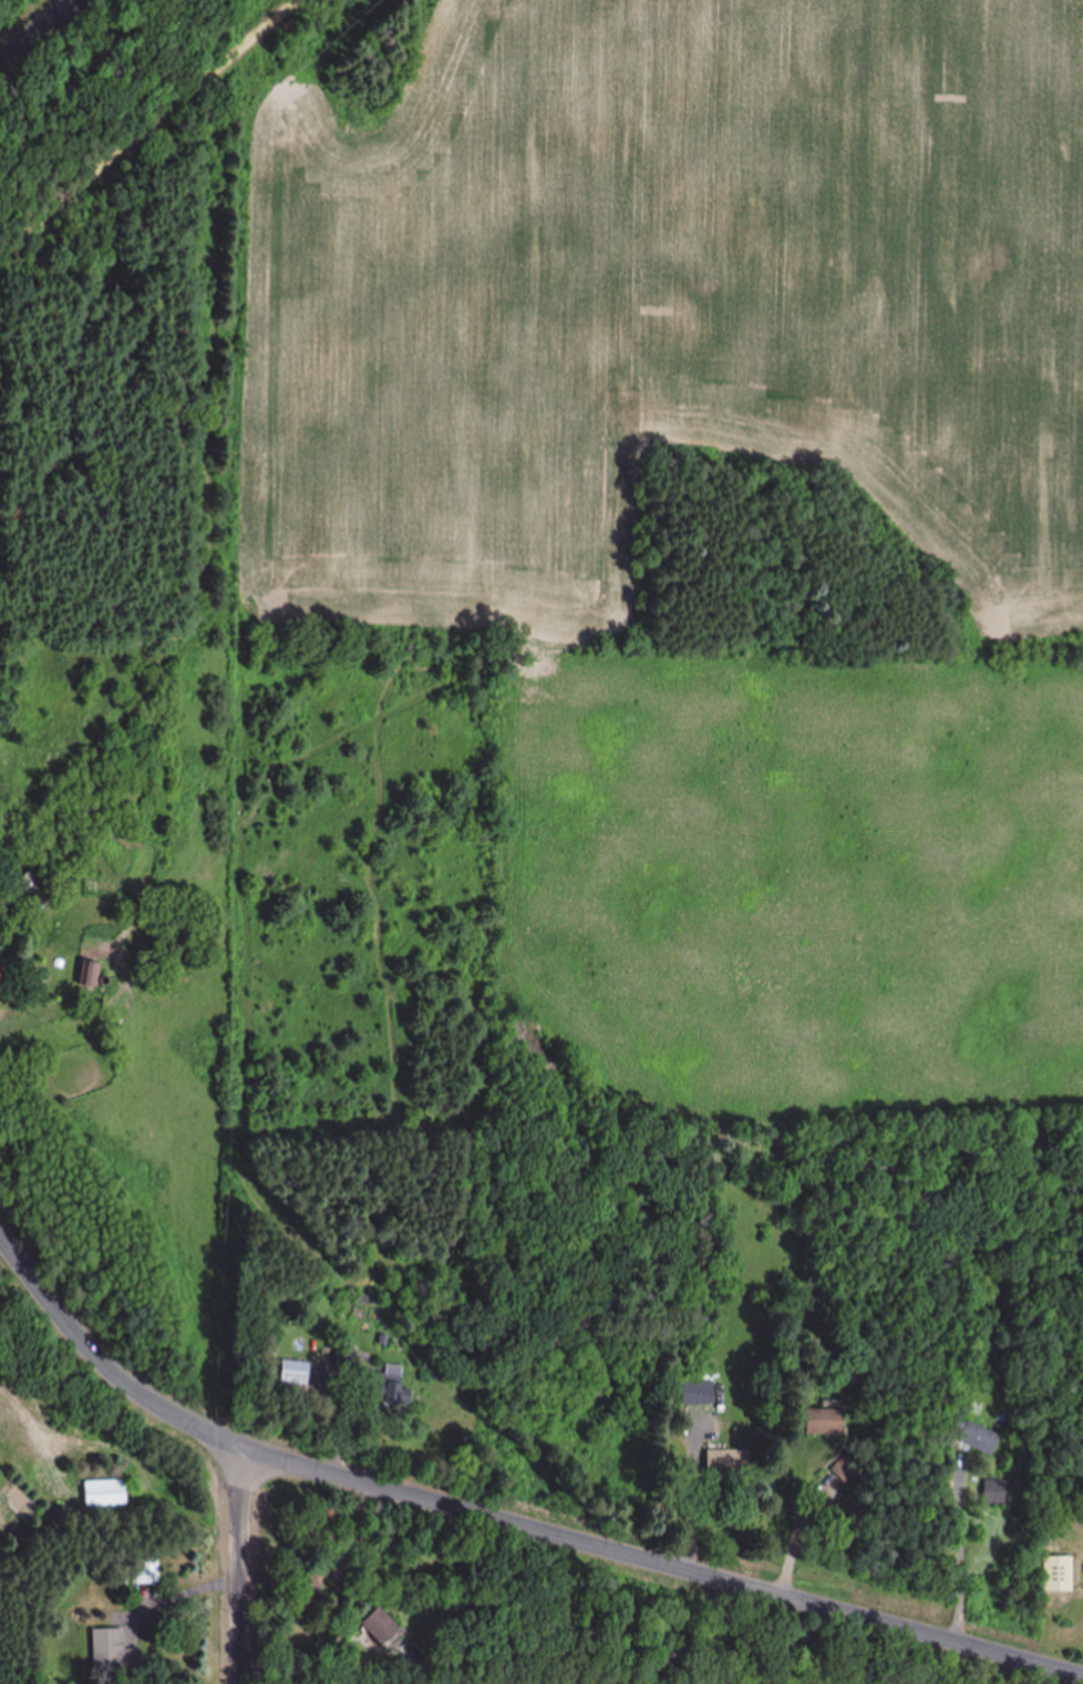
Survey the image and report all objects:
road: (38, 31)
road: (149, 126)
building: (31, 884)
building: (90, 975)
building: (293, 1373)
building: (384, 1386)
building: (691, 1393)
building: (819, 1423)
building: (971, 1438)
building: (724, 1465)
building: (843, 1471)
building: (102, 1493)
building: (991, 1493)
road: (502, 1512)
road: (245, 1563)
building: (146, 1570)
building: (308, 1582)
building: (377, 1625)
building: (112, 1652)

